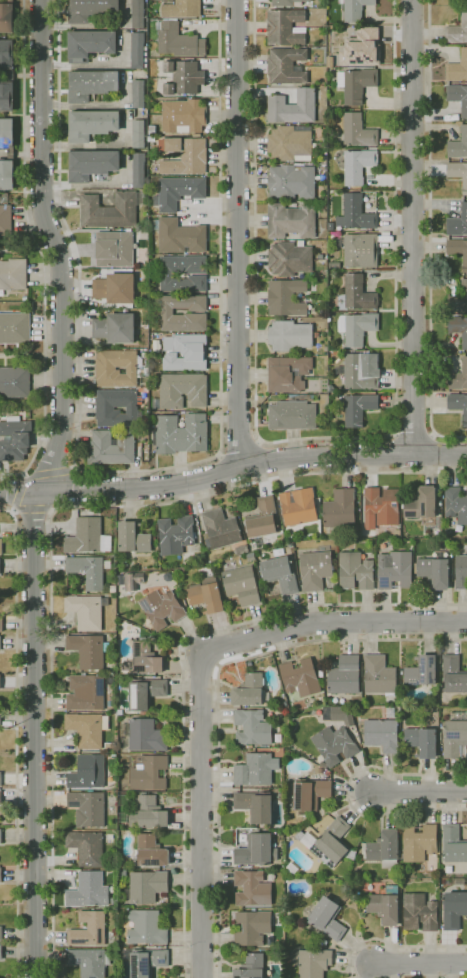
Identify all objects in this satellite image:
building: (464, 0)
building: (287, 2)
building: (90, 9)
building: (182, 9)
building: (355, 9)
building: (138, 14)
building: (6, 17)
building: (322, 20)
building: (285, 27)
building: (457, 30)
building: (178, 40)
building: (90, 43)
building: (360, 47)
building: (137, 50)
building: (286, 66)
building: (457, 68)
building: (10, 75)
building: (183, 77)
building: (91, 84)
building: (356, 84)
building: (324, 89)
building: (138, 94)
building: (458, 96)
building: (292, 107)
building: (183, 115)
building: (91, 124)
building: (358, 131)
building: (138, 133)
building: (197, 135)
building: (151, 138)
building: (324, 139)
building: (289, 142)
building: (458, 144)
building: (319, 146)
building: (10, 153)
building: (184, 155)
building: (91, 164)
building: (358, 165)
building: (139, 170)
building: (458, 173)
building: (292, 182)
building: (177, 192)
building: (111, 210)
building: (149, 212)
building: (355, 213)
building: (5, 220)
building: (290, 220)
building: (458, 223)
building: (330, 225)
road: (412, 227)
road: (431, 232)
building: (142, 234)
road: (238, 234)
building: (179, 236)
road: (34, 240)
building: (114, 249)
building: (361, 250)
building: (458, 250)
building: (290, 258)
building: (332, 273)
building: (13, 274)
building: (166, 274)
building: (115, 288)
building: (356, 294)
building: (286, 297)
building: (24, 298)
building: (459, 299)
building: (195, 314)
building: (357, 327)
building: (14, 328)
building: (115, 328)
building: (459, 329)
building: (290, 335)
building: (185, 352)
building: (105, 368)
building: (340, 370)
building: (361, 371)
building: (288, 373)
building: (458, 377)
building: (15, 382)
building: (181, 391)
building: (458, 404)
building: (105, 408)
building: (357, 408)
building: (293, 413)
road: (413, 428)
building: (181, 434)
building: (14, 438)
road: (323, 438)
building: (112, 447)
road: (252, 466)
road: (75, 468)
road: (140, 469)
road: (25, 473)
road: (49, 473)
road: (9, 474)
road: (41, 486)
road: (20, 491)
road: (19, 492)
building: (422, 504)
building: (456, 504)
building: (298, 506)
building: (381, 507)
road: (32, 508)
road: (54, 509)
building: (339, 510)
road: (13, 511)
building: (263, 518)
building: (220, 529)
building: (176, 535)
road: (52, 536)
building: (85, 536)
building: (133, 538)
building: (1, 546)
building: (242, 549)
building: (180, 570)
building: (315, 570)
building: (395, 570)
building: (88, 571)
building: (355, 571)
building: (434, 571)
building: (461, 572)
building: (280, 574)
building: (133, 580)
building: (242, 585)
building: (112, 589)
building: (206, 595)
building: (162, 608)
building: (86, 611)
building: (1, 624)
building: (0, 643)
building: (88, 650)
building: (146, 658)
road: (181, 663)
building: (422, 671)
building: (321, 673)
building: (453, 674)
building: (345, 676)
building: (379, 676)
building: (300, 678)
road: (200, 681)
building: (0, 684)
building: (249, 690)
building: (86, 692)
building: (144, 692)
road: (218, 697)
building: (0, 721)
building: (252, 728)
building: (87, 729)
building: (381, 734)
building: (144, 735)
building: (455, 737)
road: (16, 739)
building: (422, 741)
building: (334, 745)
building: (111, 747)
building: (256, 769)
building: (320, 770)
building: (88, 772)
building: (150, 773)
building: (0, 779)
road: (420, 791)
road: (347, 792)
building: (310, 793)
building: (0, 798)
building: (122, 798)
building: (255, 805)
building: (88, 808)
building: (148, 814)
building: (300, 835)
building: (1, 836)
building: (332, 842)
building: (419, 842)
building: (453, 844)
building: (86, 847)
building: (385, 849)
building: (256, 850)
building: (150, 852)
building: (120, 864)
building: (121, 873)
building: (355, 874)
building: (1, 875)
building: (146, 886)
building: (252, 888)
building: (88, 890)
building: (384, 908)
building: (454, 909)
building: (420, 912)
building: (327, 918)
building: (251, 927)
building: (146, 928)
building: (89, 929)
building: (1, 933)
road: (392, 944)
building: (1, 952)
building: (90, 961)
building: (147, 962)
building: (311, 962)
road: (420, 964)
building: (251, 967)

